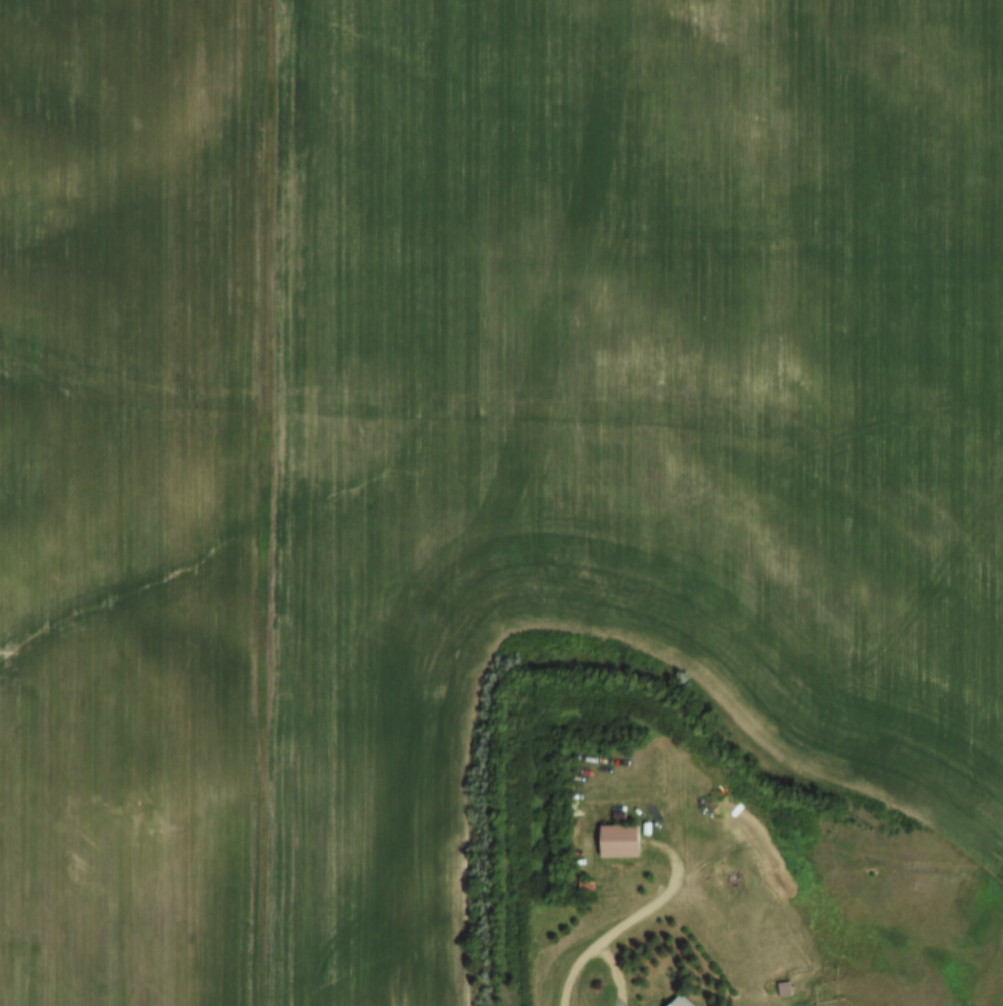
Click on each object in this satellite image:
building: (622, 842)
road: (635, 920)
road: (611, 970)
road: (616, 1001)
building: (684, 1002)

